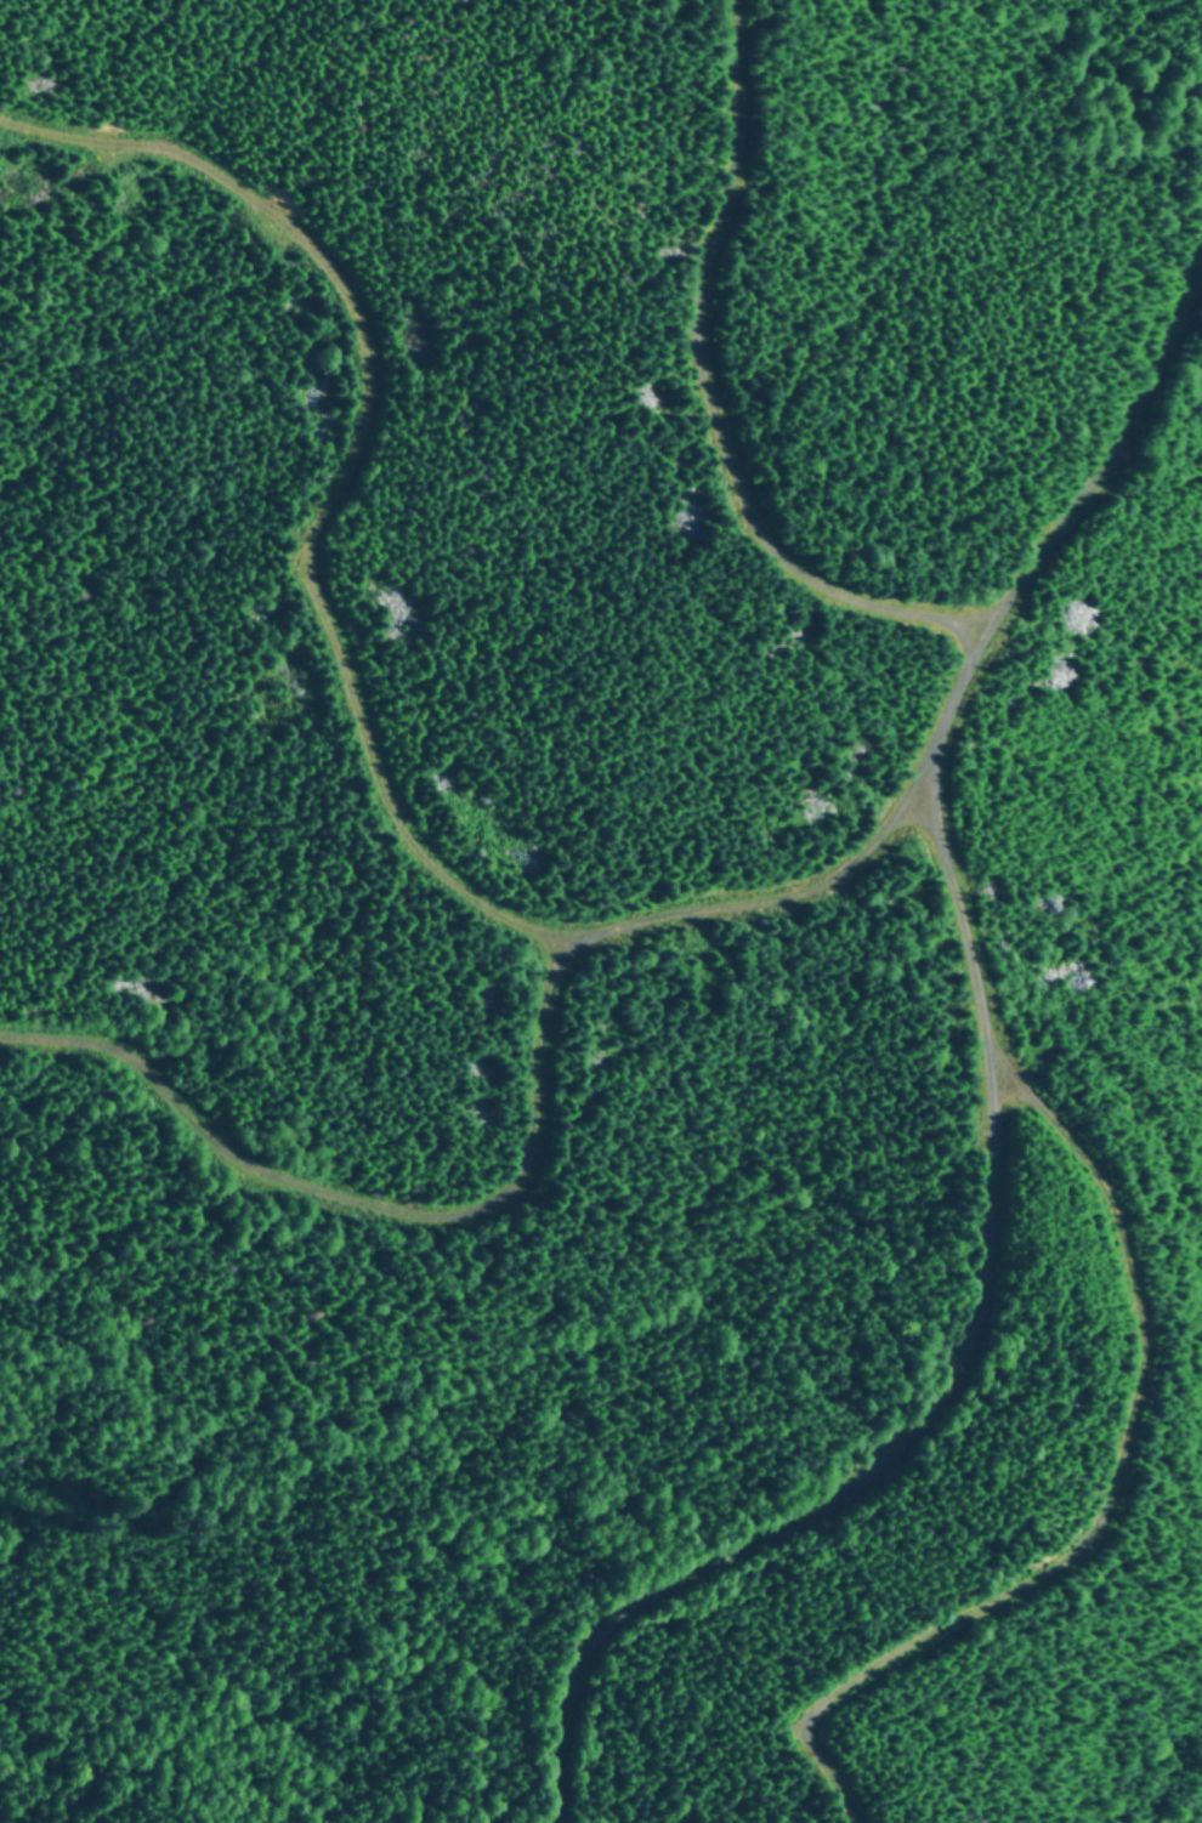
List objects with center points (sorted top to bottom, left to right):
road: (725, 411)
road: (1116, 420)
road: (359, 641)
road: (402, 1203)
road: (954, 1268)

